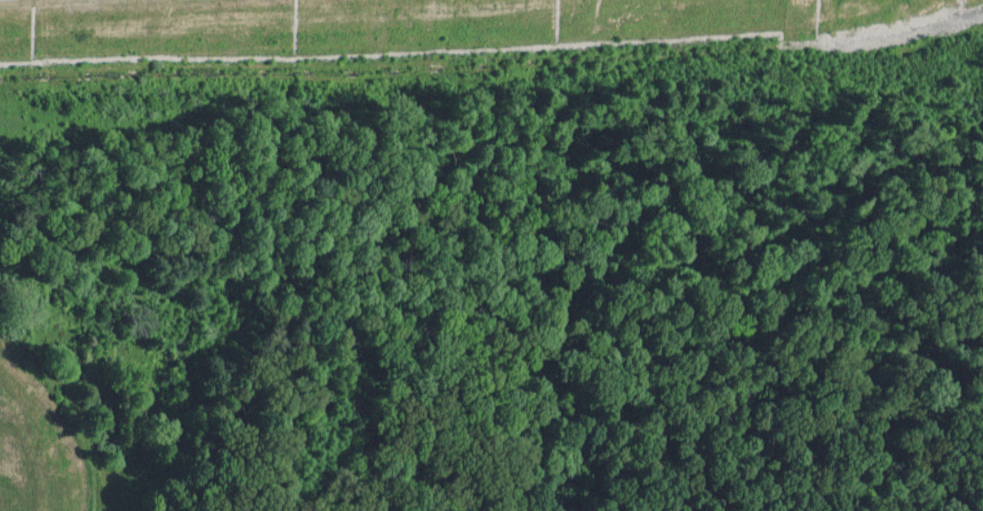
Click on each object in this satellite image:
building: (143, 408)

